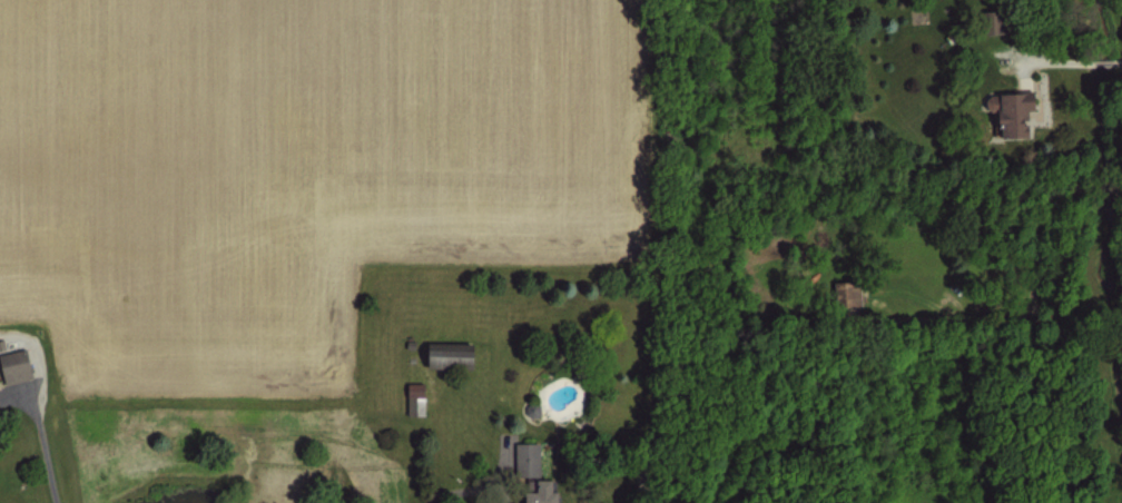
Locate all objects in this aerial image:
building: (994, 22)
road: (1072, 58)
building: (1005, 109)
building: (1023, 114)
crop: (298, 164)
road: (1031, 288)
building: (854, 294)
building: (443, 351)
building: (12, 362)
building: (412, 397)
building: (421, 400)
road: (43, 450)
building: (523, 457)
road: (462, 490)
building: (533, 493)

